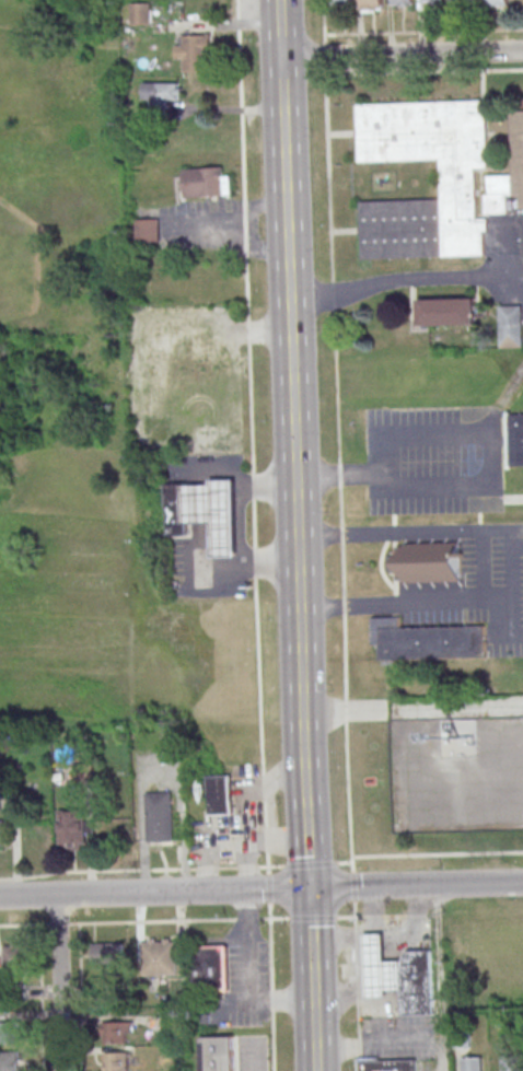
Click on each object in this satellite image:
building: (431, 0)
building: (462, 1)
building: (340, 2)
building: (402, 2)
building: (497, 2)
building: (371, 5)
building: (140, 13)
road: (423, 31)
building: (196, 53)
road: (402, 54)
road: (423, 71)
building: (161, 93)
building: (509, 178)
building: (207, 182)
building: (457, 184)
building: (149, 231)
road: (405, 280)
building: (448, 312)
building: (510, 326)
building: (179, 369)
road: (291, 380)
building: (516, 440)
parking lot: (434, 461)
road: (487, 482)
road: (339, 500)
building: (179, 509)
building: (216, 513)
road: (242, 529)
road: (256, 535)
building: (427, 562)
road: (513, 563)
building: (428, 641)
parking lot: (458, 779)
building: (221, 794)
building: (159, 816)
road: (306, 824)
building: (71, 829)
building: (2, 834)
road: (437, 853)
road: (311, 864)
road: (133, 870)
traffic signals: (309, 888)
road: (261, 889)
road: (311, 917)
road: (133, 921)
road: (310, 946)
building: (107, 953)
building: (15, 956)
building: (160, 956)
building: (210, 968)
building: (381, 969)
road: (60, 982)
building: (419, 983)
road: (439, 992)
road: (357, 993)
road: (80, 997)
road: (42, 998)
building: (9, 1033)
building: (116, 1033)
road: (313, 1038)
building: (218, 1053)
road: (246, 1059)
building: (9, 1061)
building: (117, 1061)
building: (473, 1063)
building: (512, 1063)
building: (390, 1066)

